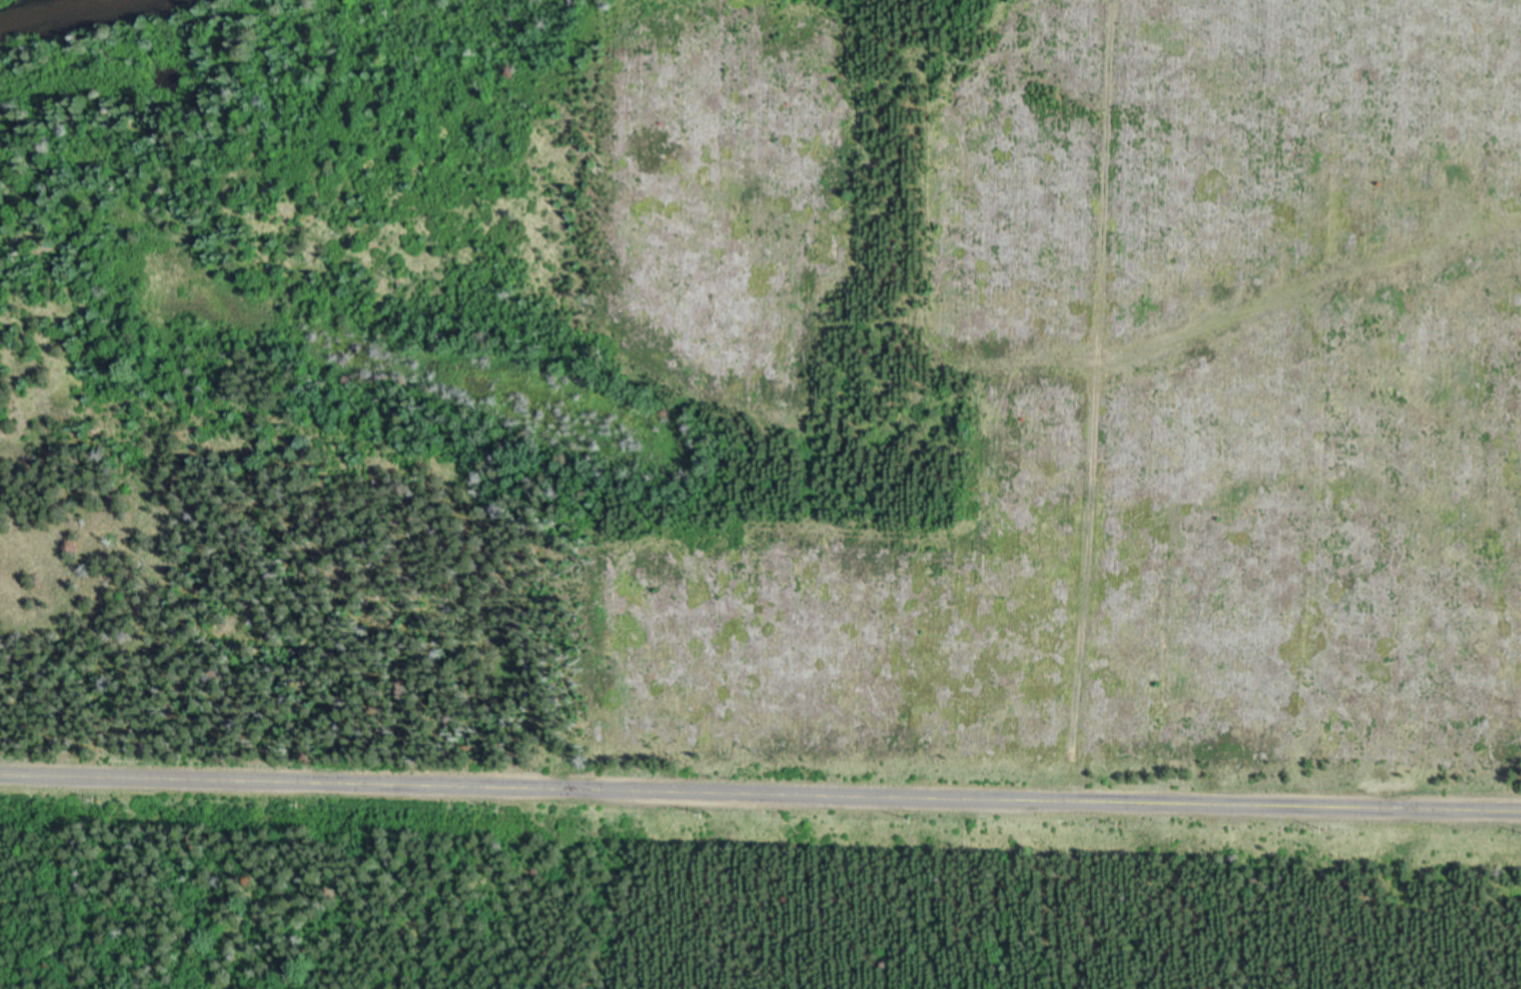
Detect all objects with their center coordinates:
river: (59, 16)
road: (760, 798)

